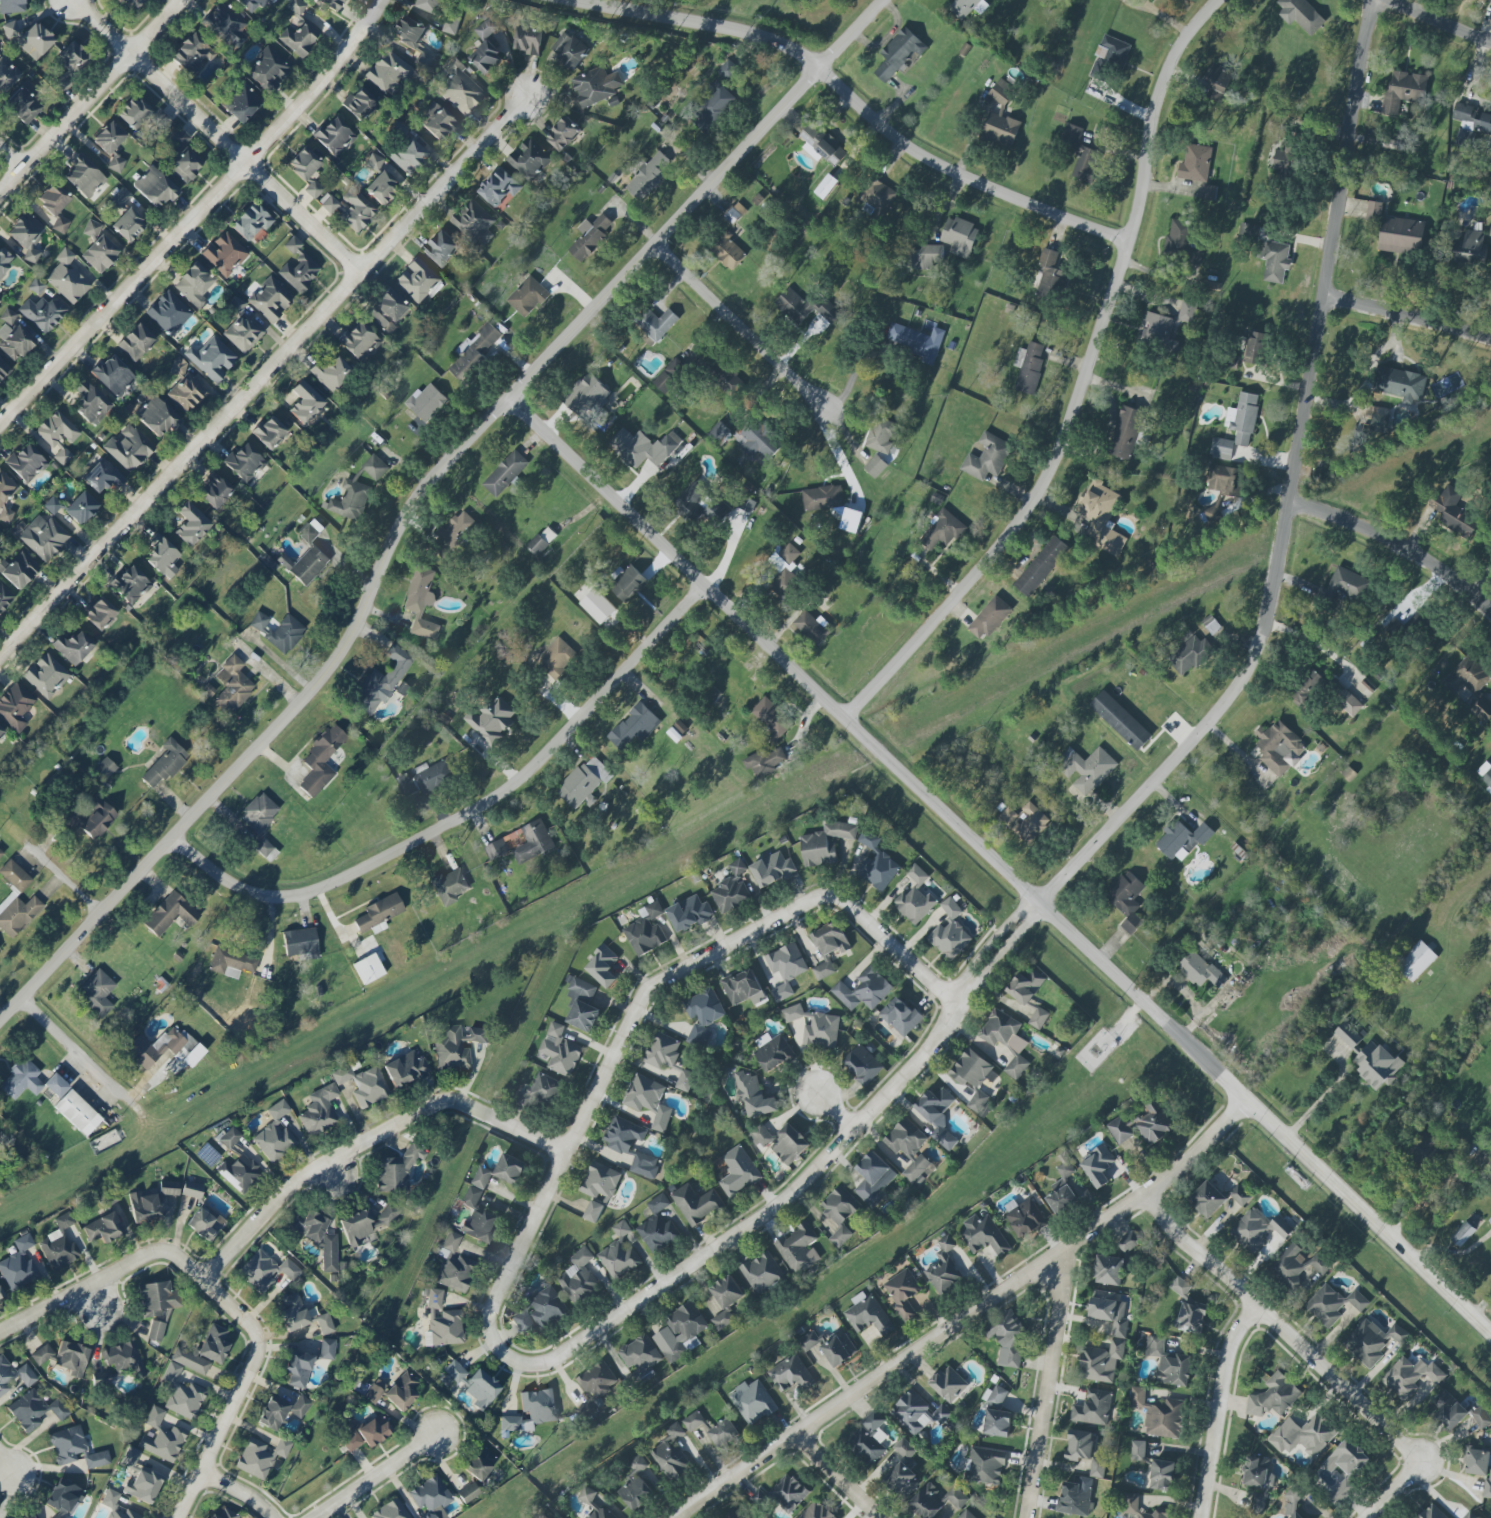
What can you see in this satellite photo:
building: (131, 4)
building: (332, 4)
building: (251, 5)
building: (430, 5)
building: (11, 6)
building: (295, 6)
building: (967, 7)
building: (1300, 15)
road: (1438, 23)
building: (450, 25)
road: (688, 25)
building: (225, 26)
building: (486, 28)
road: (130, 29)
road: (850, 34)
building: (29, 38)
building: (299, 38)
building: (412, 39)
building: (529, 40)
building: (569, 50)
building: (191, 54)
building: (898, 54)
building: (486, 57)
building: (1109, 57)
building: (68, 66)
building: (268, 70)
building: (727, 70)
building: (388, 72)
building: (7, 75)
road: (88, 78)
building: (1215, 82)
building: (596, 85)
building: (1403, 90)
road: (91, 96)
building: (240, 102)
building: (360, 104)
building: (22, 105)
building: (713, 108)
building: (132, 113)
building: (1000, 117)
building: (436, 121)
building: (1471, 124)
building: (563, 134)
building: (1071, 134)
road: (219, 136)
building: (334, 136)
building: (108, 137)
building: (180, 137)
road: (239, 138)
building: (820, 145)
building: (407, 155)
road: (11, 157)
building: (529, 159)
building: (1283, 160)
building: (373, 162)
building: (115, 163)
building: (303, 163)
building: (1195, 163)
building: (1085, 164)
building: (185, 165)
road: (222, 168)
building: (83, 176)
road: (964, 176)
building: (647, 177)
building: (383, 184)
building: (825, 186)
building: (500, 187)
building: (154, 188)
building: (312, 189)
building: (1208, 192)
building: (120, 198)
building: (52, 199)
building: (877, 200)
building: (328, 203)
building: (355, 209)
building: (1373, 211)
road: (196, 215)
building: (251, 221)
building: (474, 223)
building: (60, 224)
building: (127, 224)
building: (91, 229)
building: (1490, 229)
building: (1248, 231)
road: (339, 232)
building: (26, 235)
road: (664, 235)
building: (1401, 235)
building: (959, 236)
building: (589, 237)
building: (1180, 241)
building: (441, 248)
building: (1470, 248)
building: (727, 251)
building: (99, 253)
building: (224, 254)
building: (925, 257)
building: (4, 260)
building: (1275, 261)
building: (297, 267)
building: (1049, 275)
building: (66, 278)
road: (334, 279)
building: (416, 280)
building: (193, 285)
building: (35, 286)
building: (527, 296)
building: (269, 299)
building: (0, 301)
building: (235, 305)
building: (804, 307)
building: (387, 309)
building: (1187, 311)
building: (42, 312)
building: (168, 313)
road: (1406, 313)
building: (8, 316)
building: (658, 324)
road: (742, 327)
building: (1158, 332)
building: (242, 333)
building: (915, 340)
building: (135, 341)
building: (359, 341)
building: (15, 343)
building: (1256, 348)
building: (475, 350)
building: (211, 359)
building: (178, 366)
building: (1029, 367)
building: (3, 369)
road: (1309, 370)
road: (282, 373)
building: (331, 373)
road: (262, 374)
building: (112, 375)
building: (669, 376)
road: (850, 378)
building: (726, 381)
building: (1400, 384)
road: (1085, 387)
building: (186, 392)
building: (585, 393)
building: (304, 402)
building: (426, 402)
building: (90, 403)
building: (156, 417)
building: (598, 418)
building: (1379, 421)
building: (1237, 426)
building: (268, 432)
building: (720, 433)
building: (1125, 433)
building: (57, 435)
building: (881, 436)
building: (758, 440)
building: (128, 447)
building: (643, 448)
building: (987, 457)
building: (25, 462)
building: (243, 462)
building: (875, 466)
building: (374, 467)
building: (505, 473)
building: (101, 476)
building: (1224, 480)
building: (214, 491)
building: (5, 497)
building: (349, 501)
building: (52, 505)
building: (747, 505)
building: (699, 506)
building: (81, 508)
building: (1453, 512)
building: (1101, 517)
building: (189, 524)
building: (0, 531)
building: (310, 531)
building: (454, 531)
building: (941, 531)
building: (43, 537)
building: (540, 541)
road: (1396, 546)
building: (161, 556)
building: (308, 565)
building: (1040, 566)
building: (18, 570)
building: (784, 572)
building: (628, 584)
building: (129, 585)
building: (1346, 585)
building: (5, 597)
building: (421, 603)
building: (598, 606)
building: (99, 613)
building: (989, 618)
building: (810, 627)
building: (1392, 627)
building: (277, 631)
road: (1313, 644)
building: (73, 646)
building: (1189, 655)
building: (556, 658)
building: (45, 675)
building: (1468, 675)
building: (381, 681)
building: (232, 685)
building: (1306, 688)
building: (1348, 702)
building: (15, 706)
building: (1482, 710)
building: (770, 718)
building: (1120, 720)
building: (490, 721)
road: (276, 727)
building: (632, 728)
building: (1, 731)
building: (1277, 746)
road: (876, 749)
building: (320, 761)
building: (764, 761)
building: (164, 764)
building: (104, 769)
building: (1086, 769)
building: (1487, 778)
building: (425, 779)
building: (583, 783)
building: (258, 813)
road: (466, 813)
road: (1123, 813)
building: (1006, 815)
building: (97, 818)
building: (1029, 823)
building: (868, 839)
building: (1182, 840)
building: (532, 842)
building: (824, 843)
building: (496, 849)
building: (265, 850)
building: (0, 853)
road: (51, 864)
building: (772, 869)
building: (879, 870)
building: (14, 876)
building: (449, 886)
building: (731, 889)
building: (914, 897)
building: (1126, 900)
building: (16, 913)
building: (171, 913)
building: (378, 913)
building: (689, 914)
building: (646, 930)
building: (950, 932)
road: (998, 936)
building: (830, 939)
building: (300, 944)
road: (1007, 945)
building: (1416, 961)
building: (231, 962)
building: (602, 967)
building: (368, 968)
building: (785, 969)
building: (823, 970)
building: (1199, 970)
building: (1025, 986)
building: (741, 987)
building: (863, 990)
building: (96, 993)
road: (641, 999)
building: (581, 1005)
building: (792, 1013)
building: (703, 1016)
building: (900, 1016)
building: (1038, 1018)
building: (821, 1031)
building: (1348, 1032)
building: (478, 1035)
building: (1344, 1037)
building: (1005, 1040)
building: (165, 1048)
building: (451, 1051)
building: (559, 1051)
building: (662, 1051)
building: (773, 1052)
road: (87, 1061)
building: (862, 1065)
building: (1376, 1066)
building: (404, 1069)
building: (974, 1078)
building: (685, 1080)
building: (29, 1081)
building: (362, 1084)
building: (539, 1090)
building: (753, 1095)
building: (648, 1100)
road: (1319, 1100)
building: (319, 1110)
road: (836, 1111)
building: (77, 1113)
building: (937, 1115)
building: (1141, 1125)
building: (274, 1134)
building: (622, 1135)
building: (229, 1138)
building: (905, 1138)
road: (371, 1141)
building: (781, 1142)
road: (1198, 1147)
building: (1425, 1150)
building: (645, 1166)
building: (1097, 1166)
building: (397, 1169)
building: (510, 1169)
building: (917, 1169)
building: (737, 1171)
building: (239, 1173)
building: (481, 1178)
building: (871, 1179)
building: (1066, 1189)
building: (191, 1190)
building: (598, 1190)
building: (1239, 1195)
building: (472, 1196)
building: (1207, 1199)
building: (696, 1203)
building: (143, 1207)
building: (840, 1213)
road: (1368, 1215)
building: (1025, 1218)
building: (1489, 1220)
building: (364, 1223)
road: (768, 1223)
building: (203, 1224)
building: (310, 1226)
building: (480, 1226)
building: (657, 1227)
building: (103, 1228)
building: (1461, 1233)
building: (983, 1234)
building: (1128, 1242)
building: (59, 1244)
building: (798, 1249)
building: (329, 1253)
building: (619, 1254)
building: (19, 1265)
building: (453, 1265)
building: (1298, 1268)
building: (943, 1269)
building: (265, 1270)
building: (1108, 1270)
building: (761, 1272)
building: (578, 1278)
building: (1180, 1286)
building: (902, 1292)
road: (73, 1295)
building: (0, 1296)
building: (726, 1300)
building: (1332, 1304)
road: (102, 1305)
building: (157, 1306)
building: (293, 1313)
building: (538, 1313)
building: (866, 1314)
building: (1192, 1316)
building: (324, 1324)
road: (1282, 1328)
building: (444, 1329)
building: (679, 1331)
building: (1117, 1333)
building: (1006, 1339)
building: (809, 1340)
building: (1372, 1341)
building: (691, 1344)
building: (327, 1349)
building: (838, 1349)
building: (203, 1351)
building: (42, 1354)
road: (916, 1355)
building: (640, 1357)
building: (72, 1358)
building: (123, 1358)
road: (259, 1360)
building: (1166, 1362)
building: (298, 1368)
building: (454, 1371)
building: (790, 1374)
building: (13, 1375)
building: (1410, 1376)
building: (100, 1378)
building: (947, 1384)
building: (596, 1385)
road: (1054, 1388)
building: (480, 1389)
building: (374, 1391)
building: (401, 1391)
building: (181, 1393)
building: (996, 1396)
building: (1274, 1397)
building: (752, 1402)
building: (538, 1405)
building: (299, 1406)
road: (1216, 1406)
building: (1093, 1408)
building: (34, 1410)
building: (1449, 1410)
building: (272, 1413)
building: (914, 1413)
building: (1159, 1414)
building: (154, 1417)
building: (1481, 1417)
building: (693, 1421)
building: (514, 1423)
building: (997, 1423)
building: (724, 1433)
building: (365, 1434)
building: (1303, 1435)
building: (867, 1439)
building: (163, 1443)
building: (67, 1444)
building: (1079, 1445)
building: (1137, 1451)
building: (671, 1454)
building: (131, 1457)
building: (259, 1457)
building: (96, 1459)
building: (479, 1463)
building: (984, 1465)
building: (1097, 1467)
building: (1479, 1467)
building: (1343, 1468)
building: (903, 1469)
road: (5, 1470)
building: (1256, 1471)
building: (1162, 1475)
road: (374, 1476)
road: (836, 1479)
building: (636, 1485)
building: (143, 1486)
road: (241, 1492)
road: (1393, 1492)
building: (467, 1493)
building: (782, 1494)
building: (586, 1495)
building: (62, 1497)
building: (431, 1497)
building: (1074, 1498)
building: (1293, 1498)
building: (1259, 1499)
building: (935, 1500)
building: (1138, 1508)
building: (390, 1510)
building: (815, 1511)
building: (1431, 1512)
building: (599, 1513)
building: (225, 1514)
building: (966, 1515)
building: (1296, 1515)
building: (1469, 1515)
building: (741, 1516)
building: (28, 1517)

